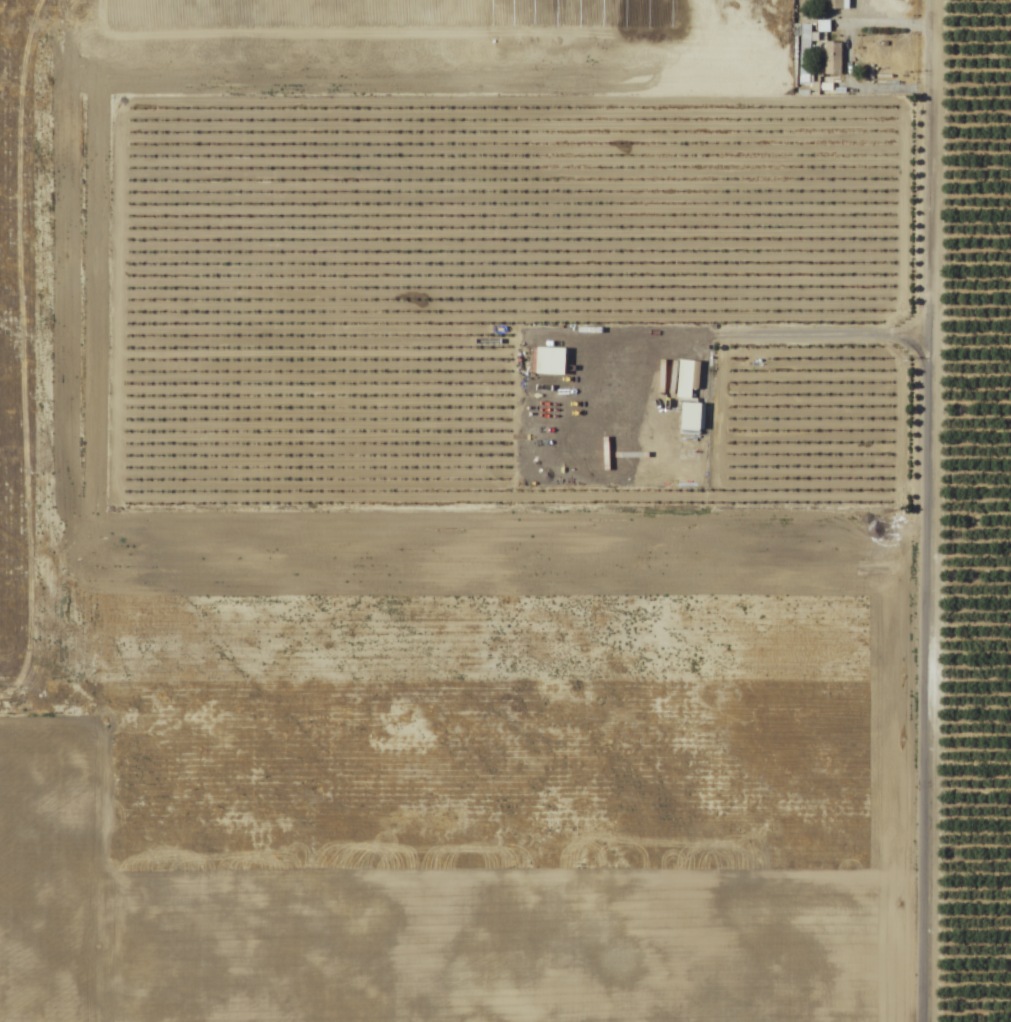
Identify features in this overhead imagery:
road: (886, 23)
building: (831, 58)
building: (690, 415)
road: (935, 510)

